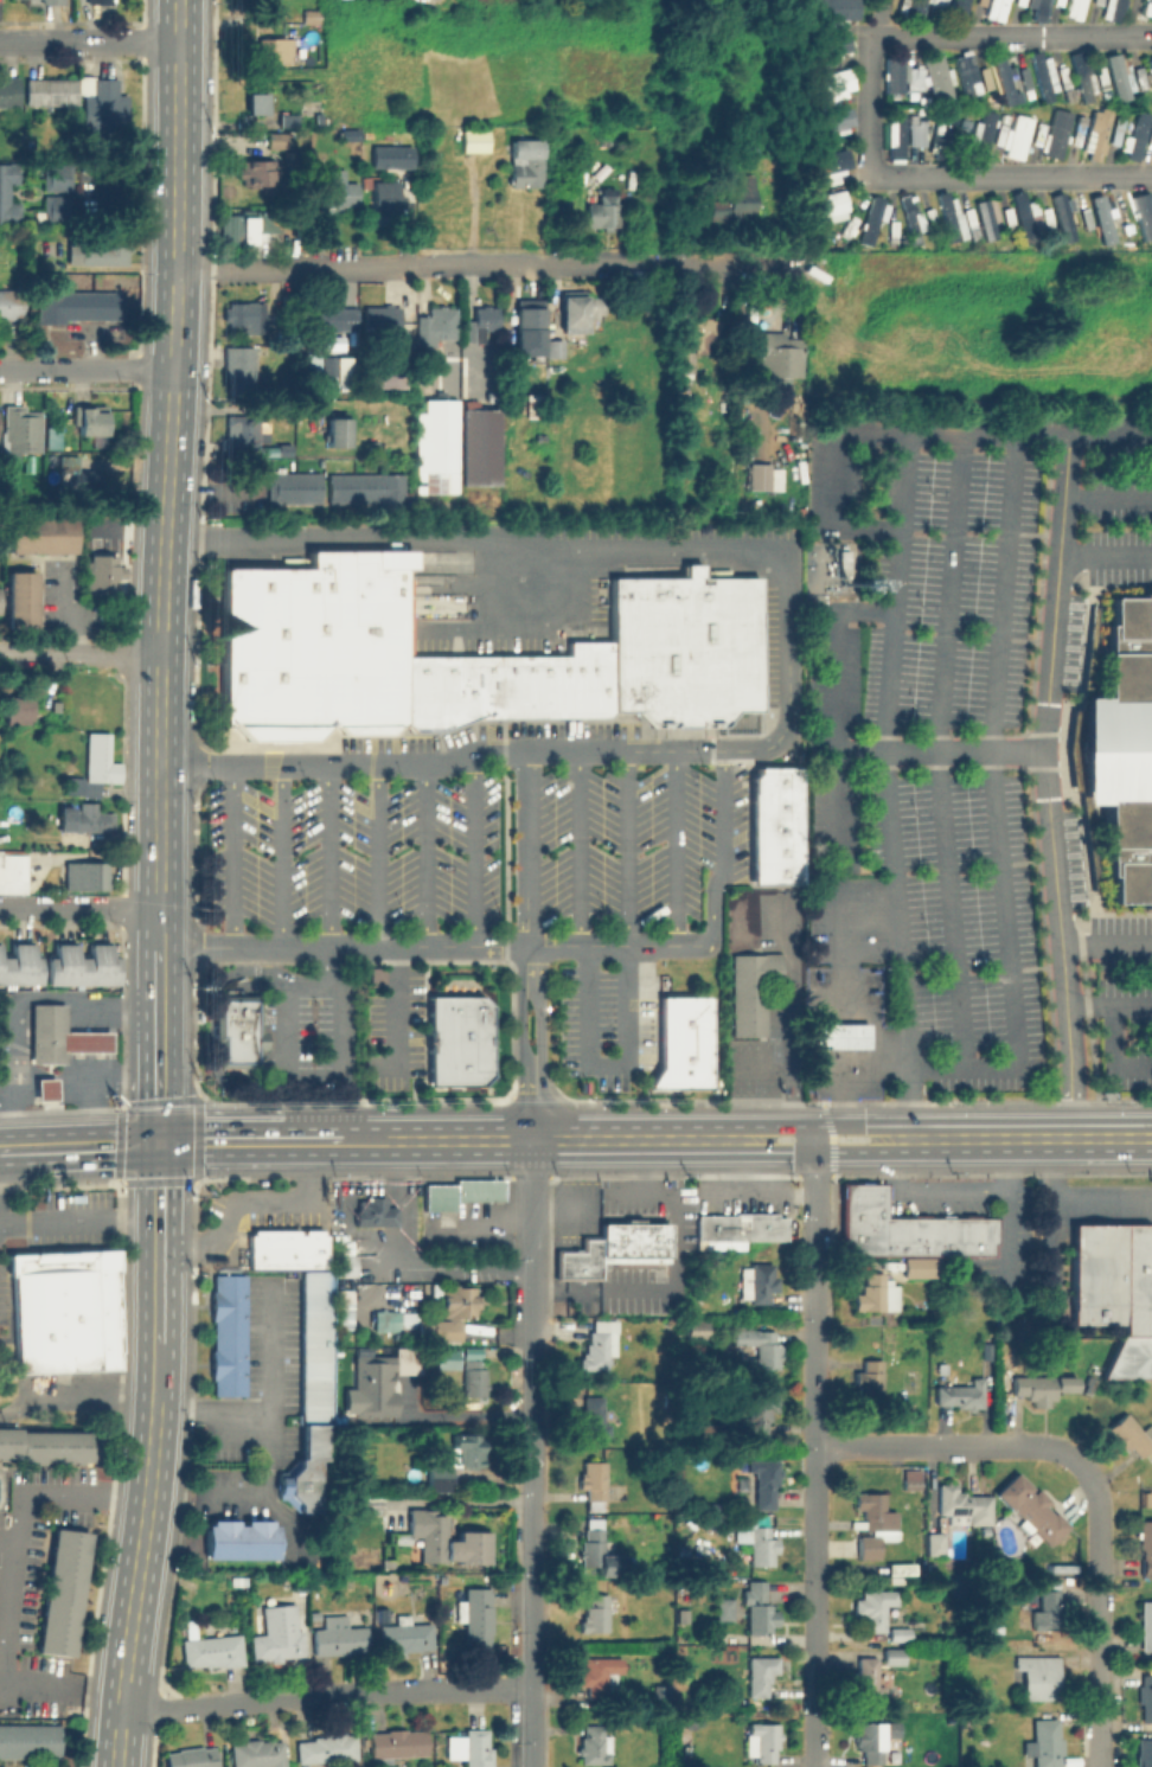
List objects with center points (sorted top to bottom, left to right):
building: (53, 1)
building: (100, 1)
building: (941, 1)
building: (1019, 1)
building: (1058, 1)
building: (1137, 1)
building: (1076, 7)
building: (913, 8)
building: (960, 8)
building: (1147, 8)
building: (992, 9)
building: (1039, 9)
building: (1112, 9)
building: (831, 12)
building: (309, 14)
road: (1010, 33)
road: (88, 41)
building: (833, 47)
building: (274, 50)
building: (1150, 64)
building: (1080, 71)
building: (892, 73)
building: (937, 75)
building: (968, 75)
building: (1113, 76)
building: (1140, 76)
building: (987, 77)
building: (1025, 77)
building: (1044, 77)
building: (1102, 77)
building: (915, 79)
building: (1064, 79)
building: (1007, 82)
building: (832, 85)
road: (868, 85)
building: (52, 91)
building: (9, 94)
building: (258, 102)
building: (823, 103)
building: (105, 107)
building: (288, 119)
building: (837, 122)
building: (964, 129)
building: (1055, 129)
building: (1077, 132)
building: (917, 133)
building: (1000, 133)
building: (1038, 133)
building: (1115, 133)
building: (984, 134)
building: (351, 135)
building: (1016, 135)
building: (1096, 135)
building: (606, 136)
building: (942, 136)
building: (1138, 136)
building: (1151, 136)
building: (280, 139)
building: (475, 139)
building: (897, 140)
building: (824, 141)
building: (377, 149)
building: (831, 159)
building: (527, 161)
building: (254, 171)
road: (1009, 172)
building: (56, 178)
building: (825, 180)
building: (334, 191)
building: (2, 192)
building: (386, 199)
building: (735, 200)
building: (831, 206)
building: (55, 207)
building: (603, 211)
building: (1106, 212)
building: (1144, 213)
building: (1026, 215)
building: (913, 217)
building: (1048, 217)
building: (1087, 217)
building: (1125, 217)
building: (932, 218)
building: (952, 218)
building: (971, 218)
building: (1064, 218)
building: (1099, 218)
building: (990, 219)
building: (873, 220)
building: (1011, 222)
building: (849, 225)
building: (244, 226)
building: (892, 230)
building: (98, 249)
road: (482, 265)
building: (12, 303)
building: (81, 306)
building: (580, 308)
building: (247, 314)
building: (324, 318)
building: (380, 321)
building: (481, 322)
building: (437, 326)
building: (530, 329)
building: (706, 332)
building: (494, 345)
building: (556, 347)
building: (775, 353)
building: (685, 361)
building: (243, 366)
building: (449, 366)
road: (87, 371)
building: (331, 371)
building: (507, 383)
building: (535, 406)
building: (90, 418)
building: (23, 428)
building: (242, 431)
building: (338, 433)
road: (920, 434)
building: (271, 449)
road: (168, 454)
building: (77, 475)
building: (756, 475)
building: (442, 484)
building: (277, 487)
building: (303, 487)
building: (338, 487)
building: (363, 487)
building: (388, 487)
road: (1108, 497)
road: (478, 531)
building: (39, 533)
road: (1105, 555)
building: (104, 570)
building: (19, 600)
building: (367, 641)
building: (747, 645)
building: (674, 649)
building: (277, 652)
road: (79, 653)
building: (600, 679)
building: (576, 680)
building: (487, 687)
building: (516, 687)
building: (539, 687)
building: (557, 687)
building: (462, 690)
building: (427, 694)
building: (18, 709)
road: (564, 751)
road: (937, 751)
road: (939, 753)
building: (1125, 753)
building: (96, 767)
building: (780, 781)
road: (834, 783)
road: (887, 786)
road: (1045, 786)
road: (996, 801)
building: (780, 806)
building: (84, 818)
building: (780, 830)
road: (475, 849)
road: (525, 849)
road: (580, 849)
road: (628, 849)
road: (674, 849)
building: (780, 852)
road: (376, 856)
road: (427, 856)
road: (235, 857)
road: (283, 857)
road: (331, 857)
road: (722, 865)
building: (11, 872)
building: (82, 875)
building: (780, 876)
road: (79, 907)
road: (159, 928)
road: (1105, 945)
road: (416, 947)
building: (19, 966)
building: (85, 966)
building: (378, 977)
building: (753, 991)
road: (13, 1003)
road: (1108, 1005)
road: (178, 1014)
road: (793, 1014)
road: (85, 1016)
building: (462, 1016)
road: (401, 1018)
road: (211, 1020)
building: (242, 1030)
building: (836, 1035)
building: (58, 1036)
road: (85, 1042)
building: (687, 1042)
road: (520, 1043)
road: (539, 1043)
road: (158, 1045)
building: (462, 1048)
road: (1113, 1052)
road: (607, 1068)
road: (768, 1069)
building: (462, 1071)
road: (314, 1077)
building: (46, 1089)
road: (85, 1097)
road: (309, 1121)
road: (821, 1126)
road: (834, 1138)
road: (1025, 1139)
road: (572, 1140)
road: (309, 1141)
road: (367, 1141)
road: (220, 1142)
traffic signals: (158, 1144)
road: (103, 1145)
road: (24, 1150)
road: (821, 1152)
road: (267, 1159)
road: (898, 1165)
road: (1004, 1167)
road: (949, 1190)
building: (462, 1192)
road: (1075, 1195)
road: (250, 1201)
road: (398, 1203)
road: (158, 1208)
building: (375, 1212)
road: (78, 1223)
building: (909, 1228)
building: (740, 1229)
road: (530, 1231)
building: (635, 1240)
building: (343, 1247)
building: (284, 1248)
building: (582, 1261)
building: (341, 1265)
road: (444, 1266)
building: (922, 1268)
building: (759, 1282)
building: (1116, 1291)
building: (872, 1293)
building: (459, 1302)
road: (158, 1307)
building: (68, 1310)
building: (392, 1319)
building: (439, 1331)
building: (698, 1331)
building: (401, 1334)
building: (230, 1336)
building: (601, 1345)
building: (761, 1347)
building: (443, 1358)
road: (156, 1374)
building: (870, 1379)
building: (474, 1382)
building: (370, 1384)
building: (1039, 1387)
building: (308, 1394)
building: (962, 1394)
road: (76, 1400)
road: (277, 1414)
road: (462, 1414)
building: (760, 1416)
building: (594, 1419)
building: (709, 1434)
building: (1131, 1434)
building: (44, 1443)
road: (937, 1445)
road: (814, 1446)
building: (457, 1461)
building: (911, 1479)
building: (763, 1483)
building: (595, 1485)
building: (384, 1500)
building: (964, 1506)
building: (1032, 1507)
building: (875, 1523)
building: (398, 1538)
building: (241, 1539)
building: (449, 1542)
building: (936, 1543)
road: (530, 1544)
building: (760, 1544)
building: (1145, 1545)
building: (600, 1552)
building: (388, 1564)
road: (17, 1567)
building: (902, 1569)
road: (135, 1587)
building: (59, 1592)
road: (1099, 1601)
building: (875, 1607)
building: (725, 1608)
building: (759, 1608)
building: (1048, 1611)
building: (596, 1614)
building: (683, 1614)
building: (475, 1616)
building: (1147, 1626)
building: (900, 1632)
building: (279, 1635)
building: (407, 1635)
building: (340, 1637)
building: (213, 1651)
building: (894, 1657)
building: (601, 1672)
building: (761, 1673)
building: (1039, 1676)
building: (866, 1678)
building: (658, 1685)
road: (324, 1695)
building: (1146, 1696)
building: (30, 1739)
building: (763, 1741)
building: (870, 1741)
building: (1047, 1742)
building: (397, 1744)
building: (595, 1746)
building: (471, 1748)
building: (328, 1749)
building: (686, 1749)
building: (1145, 1752)
building: (258, 1754)
building: (193, 1758)

